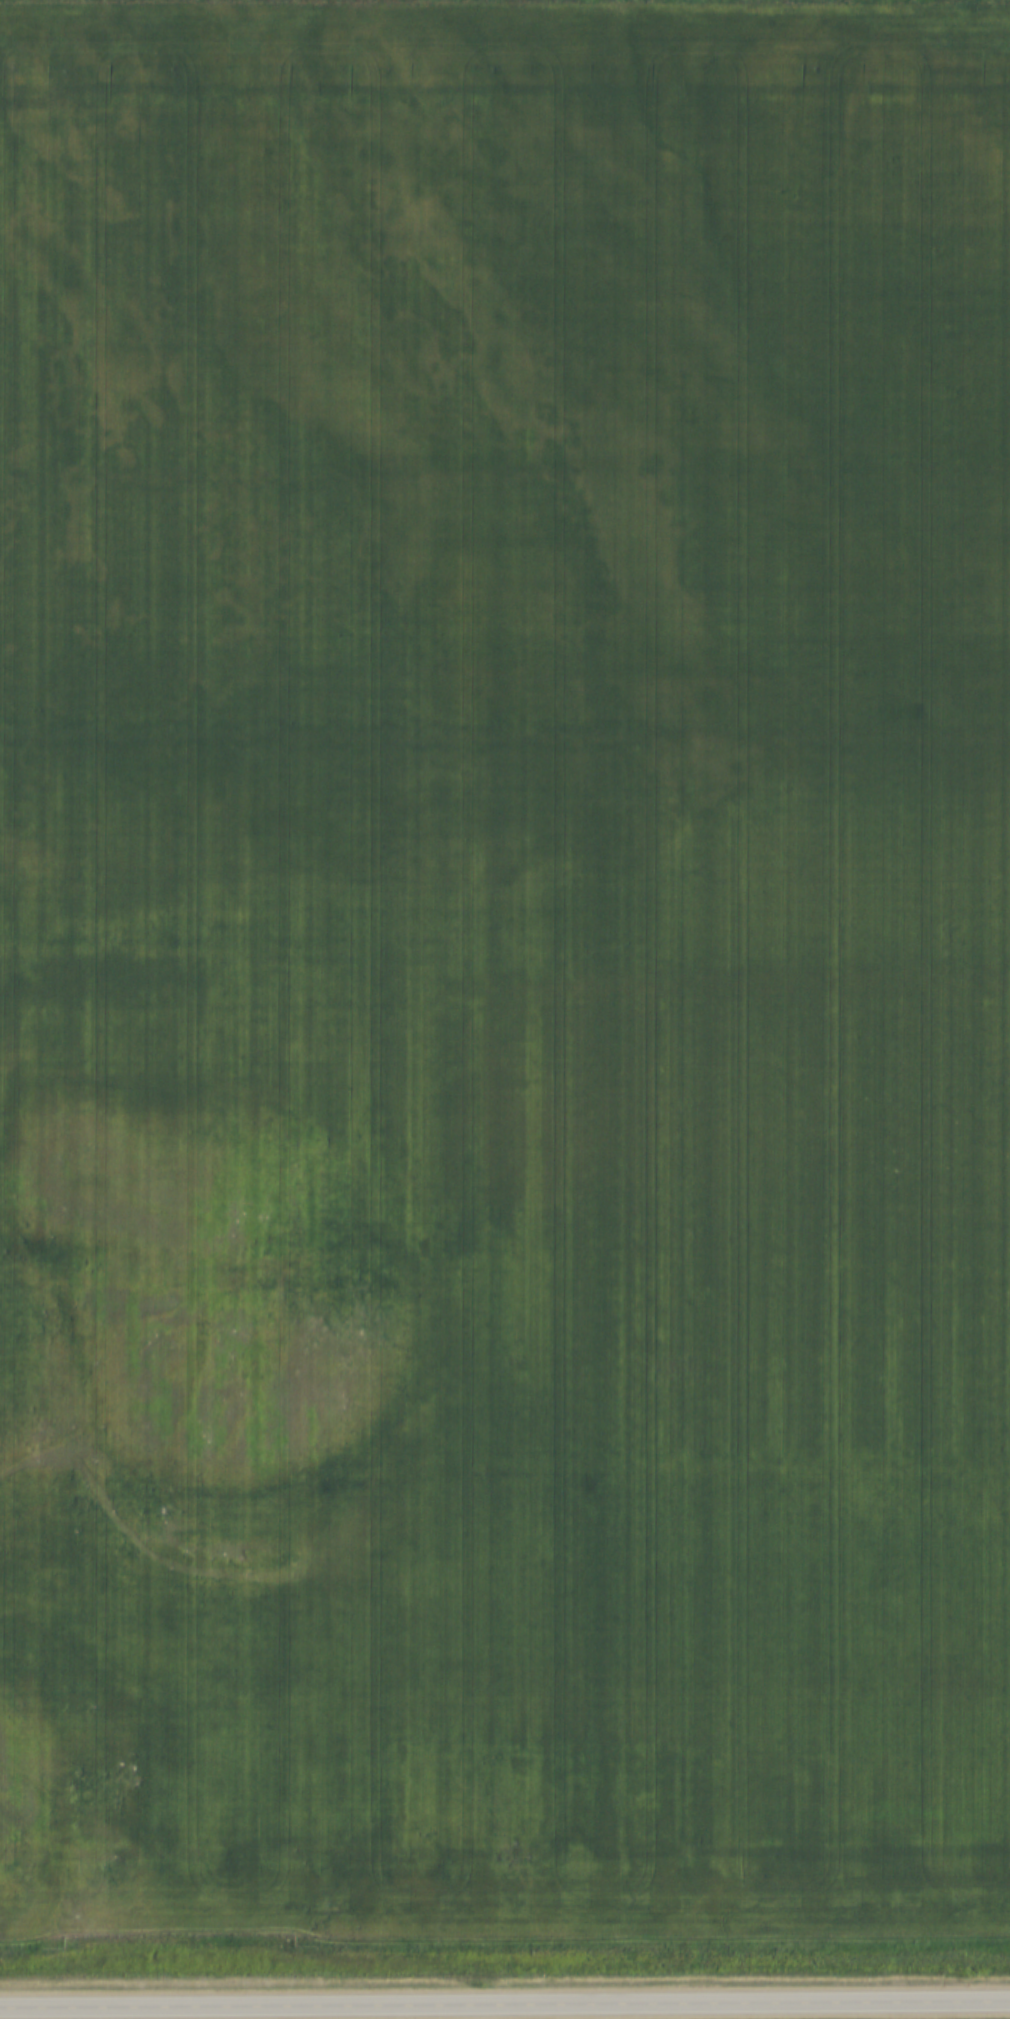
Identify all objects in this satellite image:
road: (505, 2009)

